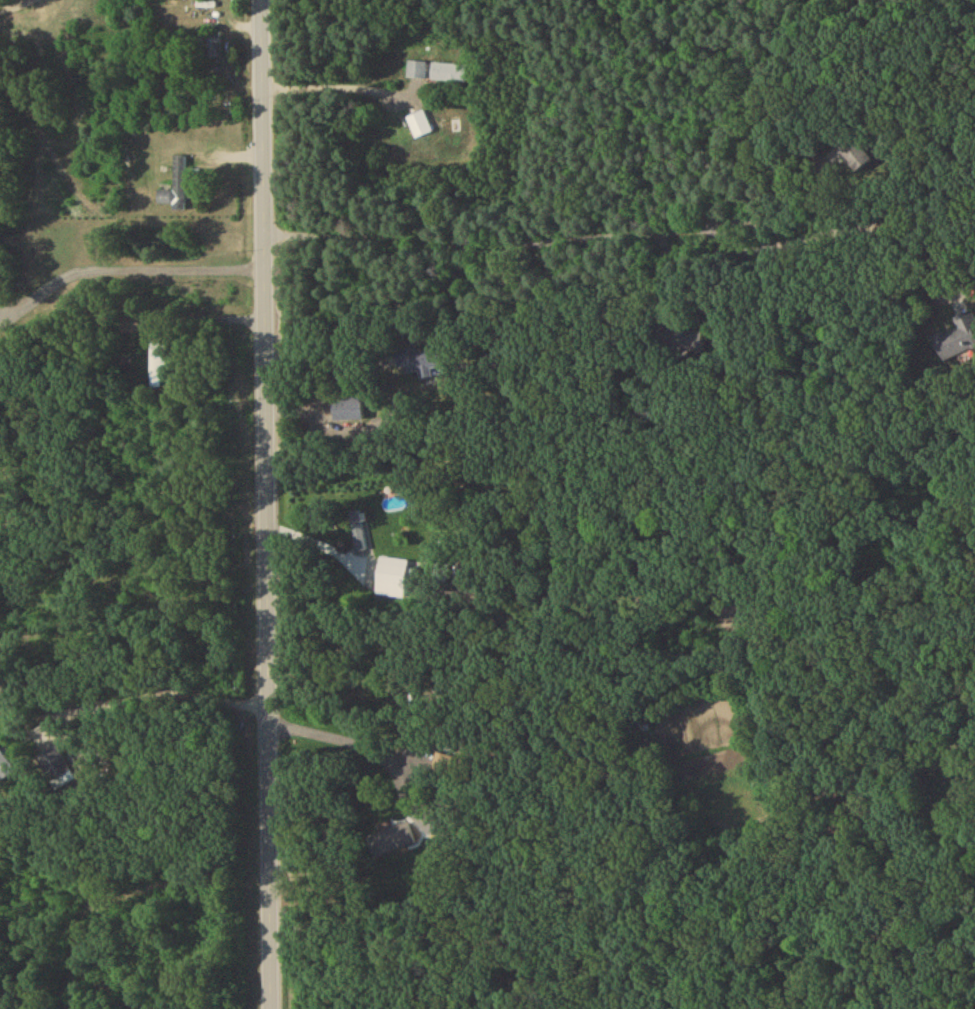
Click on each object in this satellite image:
building: (208, 55)
building: (417, 72)
building: (449, 75)
road: (331, 92)
building: (419, 127)
building: (857, 154)
building: (173, 195)
road: (121, 210)
road: (581, 232)
road: (124, 253)
building: (129, 327)
building: (958, 341)
building: (420, 364)
building: (157, 368)
building: (347, 412)
road: (265, 504)
road: (318, 533)
building: (362, 533)
building: (392, 580)
road: (169, 681)
road: (346, 744)
building: (5, 769)
building: (61, 771)
building: (392, 841)

